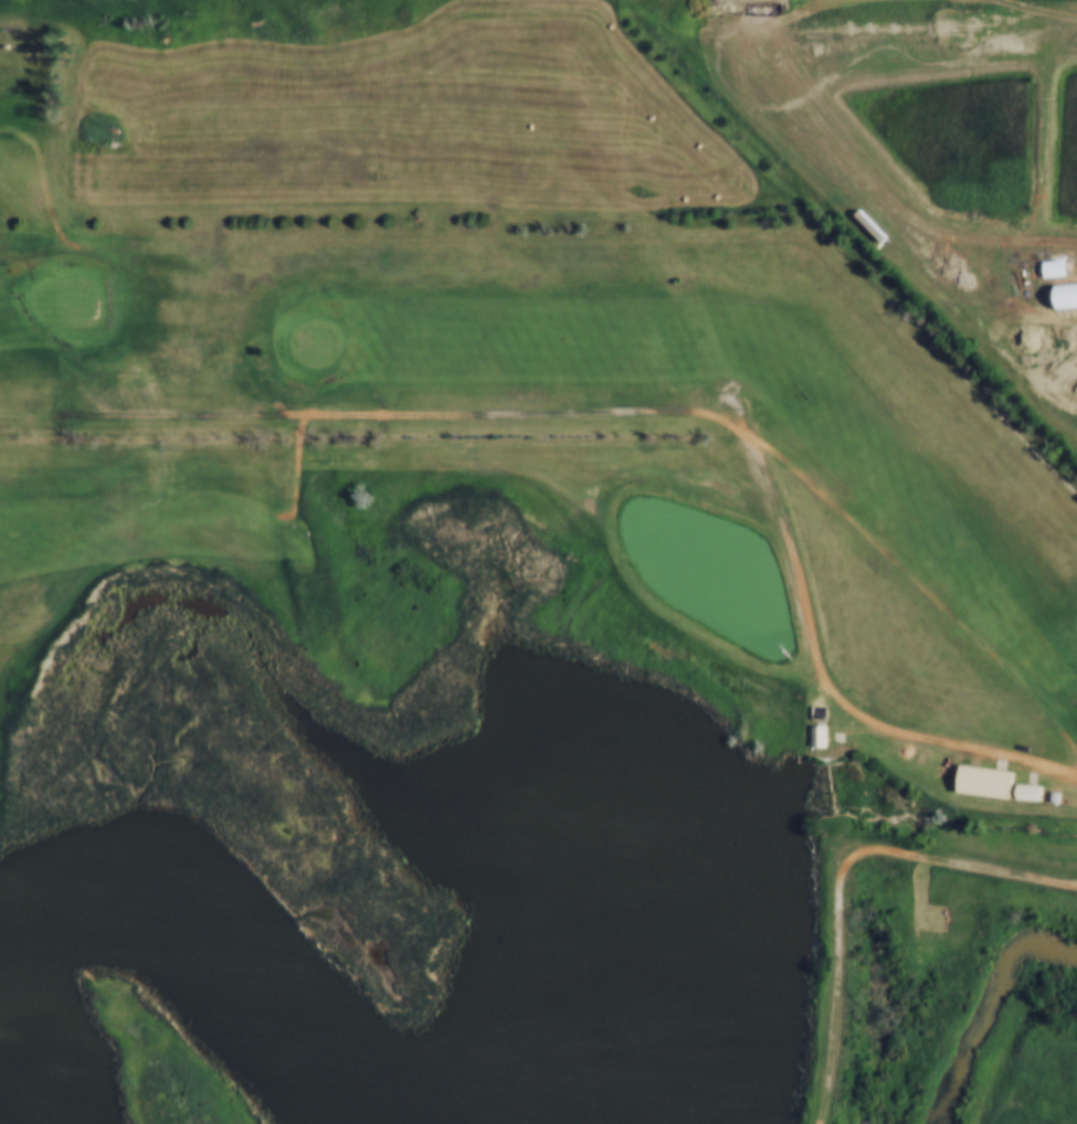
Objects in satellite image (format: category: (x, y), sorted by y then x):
building: (1045, 267)
road: (795, 544)
park: (498, 604)
building: (811, 734)
building: (819, 735)
building: (975, 781)
building: (1020, 791)
building: (1044, 795)
road: (844, 874)

